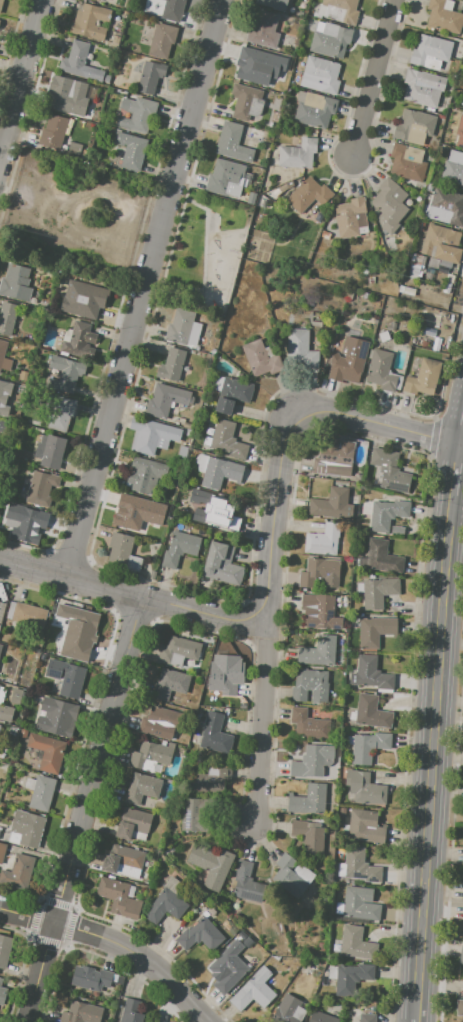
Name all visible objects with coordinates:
building: (105, 1)
building: (1, 4)
building: (273, 4)
building: (173, 10)
building: (341, 11)
building: (443, 17)
building: (90, 21)
building: (263, 29)
building: (330, 39)
building: (162, 40)
building: (436, 52)
building: (79, 63)
building: (259, 65)
building: (320, 75)
building: (150, 77)
road: (373, 78)
road: (23, 86)
building: (423, 87)
building: (61, 94)
building: (246, 102)
building: (462, 102)
building: (314, 109)
building: (137, 113)
building: (414, 127)
building: (52, 132)
building: (256, 133)
building: (460, 133)
building: (232, 142)
building: (131, 150)
building: (298, 154)
building: (408, 163)
building: (453, 168)
building: (226, 178)
building: (284, 187)
building: (308, 195)
building: (251, 199)
building: (389, 205)
building: (446, 207)
building: (351, 218)
building: (325, 235)
building: (442, 244)
park: (204, 251)
building: (433, 263)
building: (416, 266)
building: (15, 283)
building: (410, 284)
building: (447, 288)
road: (146, 289)
building: (406, 290)
building: (93, 303)
building: (7, 318)
building: (391, 326)
building: (183, 328)
building: (384, 336)
building: (78, 339)
building: (300, 348)
building: (262, 358)
building: (5, 359)
building: (348, 360)
building: (171, 365)
building: (383, 371)
building: (65, 374)
building: (423, 377)
building: (0, 384)
building: (233, 394)
building: (165, 400)
building: (60, 413)
road: (371, 421)
building: (2, 425)
building: (151, 436)
building: (228, 440)
road: (460, 444)
building: (50, 450)
building: (333, 458)
building: (390, 470)
building: (220, 472)
building: (144, 475)
building: (41, 488)
building: (332, 504)
building: (214, 510)
building: (131, 514)
building: (387, 514)
road: (276, 521)
building: (26, 525)
building: (323, 540)
building: (180, 548)
building: (122, 552)
building: (382, 557)
building: (222, 564)
building: (318, 571)
building: (379, 592)
road: (132, 595)
building: (2, 610)
building: (319, 611)
building: (25, 615)
building: (375, 631)
building: (77, 634)
building: (0, 647)
building: (178, 651)
building: (319, 651)
building: (225, 674)
building: (371, 674)
building: (66, 676)
building: (170, 683)
building: (310, 685)
building: (15, 696)
building: (4, 708)
building: (372, 712)
building: (56, 717)
building: (159, 720)
road: (435, 720)
building: (309, 725)
building: (0, 726)
road: (260, 726)
building: (23, 733)
building: (215, 734)
building: (369, 746)
building: (48, 752)
building: (151, 756)
building: (313, 761)
building: (206, 778)
building: (142, 788)
building: (365, 788)
building: (40, 792)
building: (309, 800)
road: (85, 810)
building: (194, 815)
building: (133, 824)
building: (365, 826)
building: (26, 828)
building: (0, 830)
building: (308, 835)
building: (2, 852)
building: (122, 858)
building: (211, 864)
building: (360, 866)
building: (18, 872)
building: (289, 876)
building: (247, 883)
building: (118, 897)
building: (167, 902)
building: (360, 904)
building: (230, 926)
building: (200, 934)
road: (115, 940)
building: (357, 943)
building: (4, 949)
building: (461, 953)
building: (228, 967)
building: (91, 978)
building: (352, 978)
building: (255, 990)
building: (2, 993)
building: (459, 1007)
building: (289, 1009)
building: (131, 1011)
building: (81, 1013)
building: (320, 1017)
building: (366, 1017)

